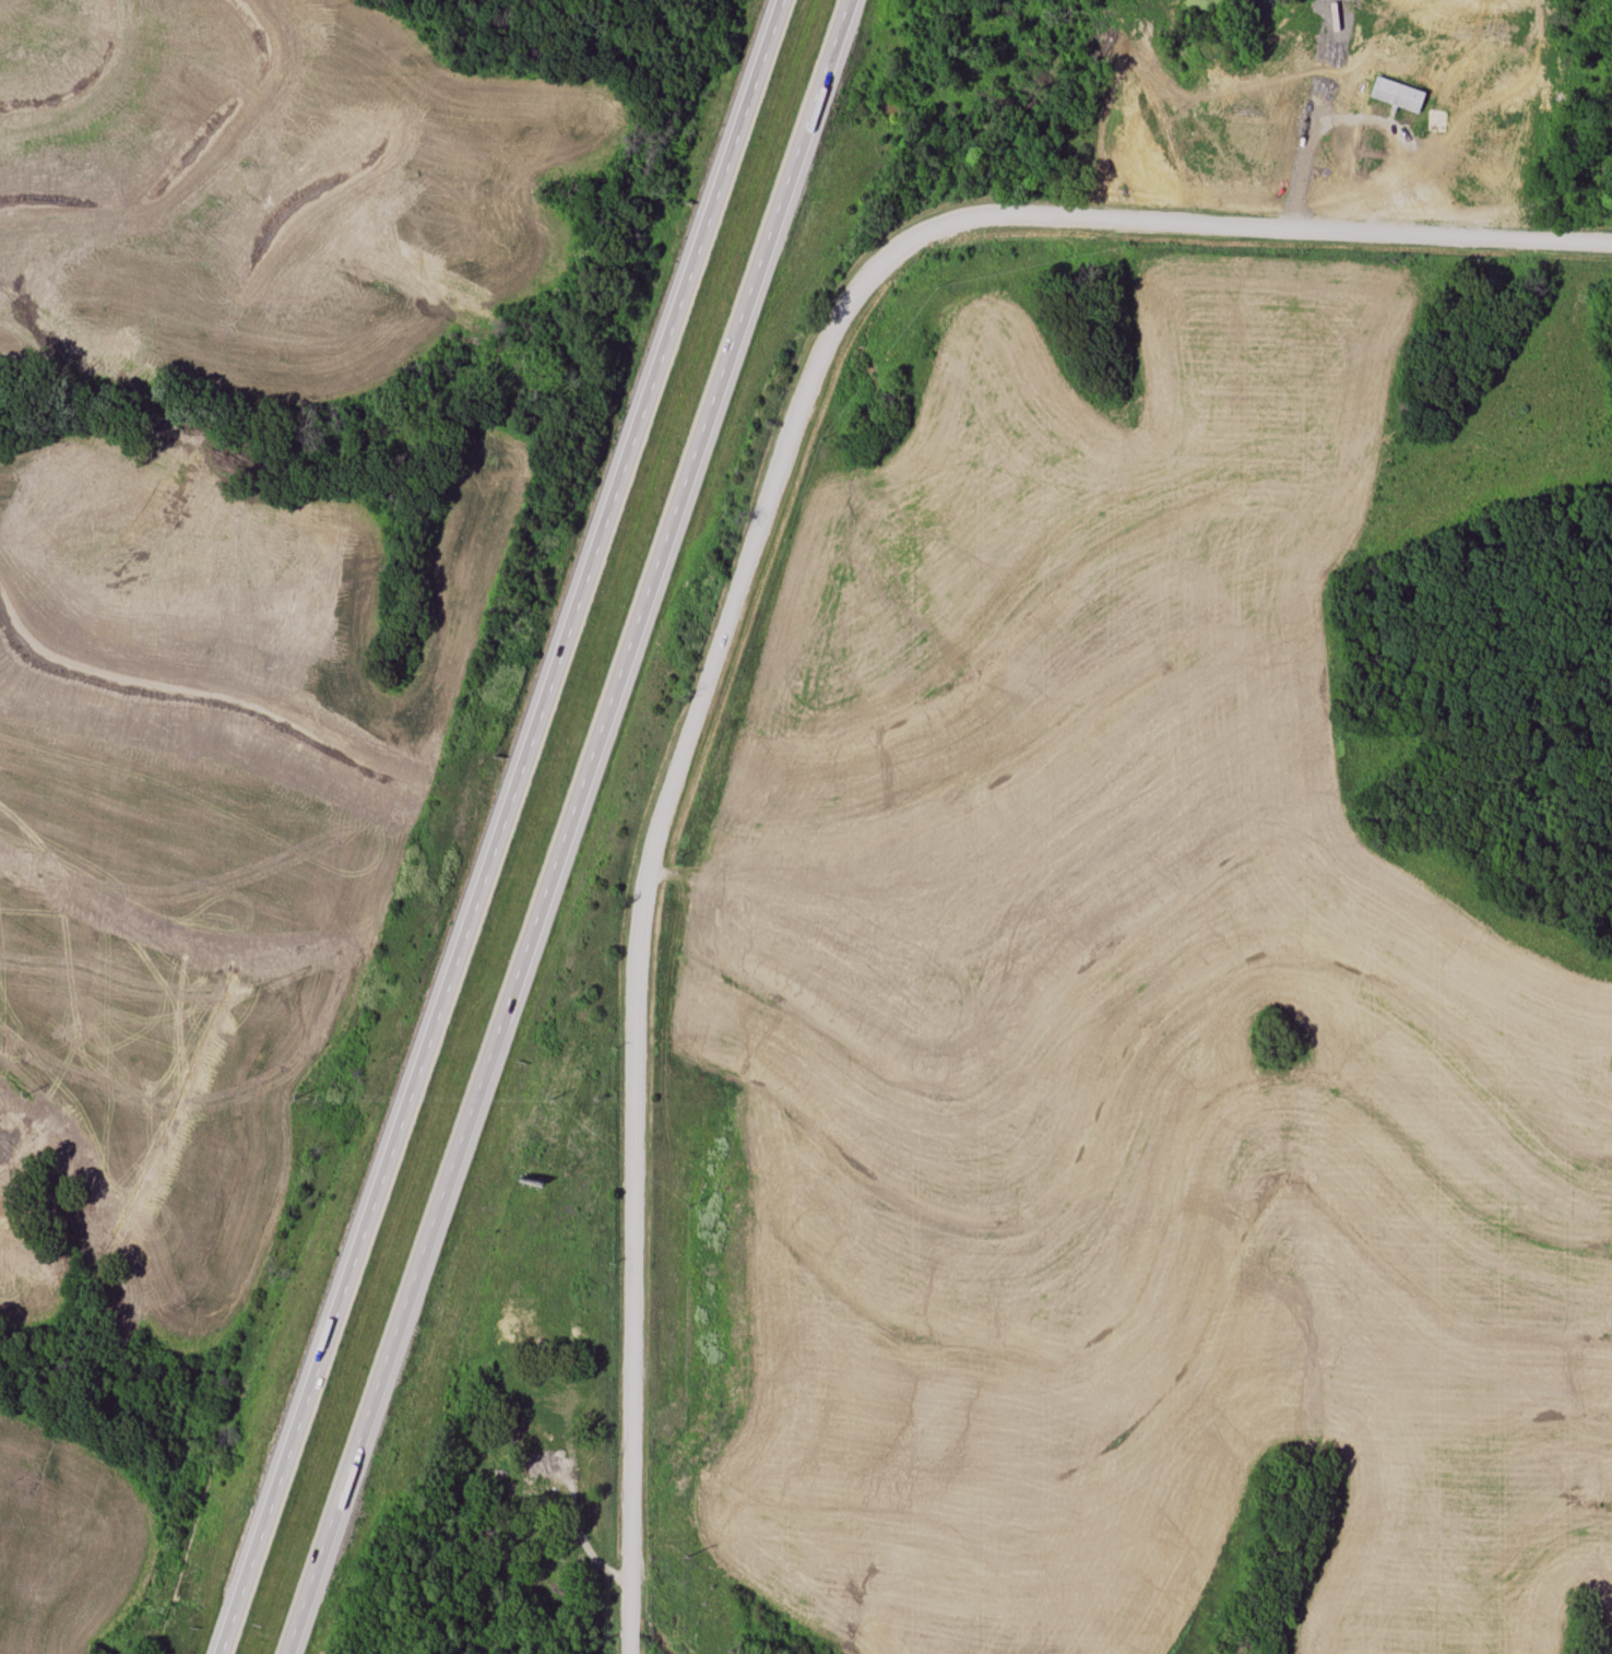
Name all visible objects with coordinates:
building: (1397, 96)
building: (1438, 116)
building: (1506, 116)
building: (1375, 164)
road: (1233, 225)
road: (500, 826)
road: (568, 826)
road: (640, 940)
building: (531, 1491)
road: (573, 1520)

